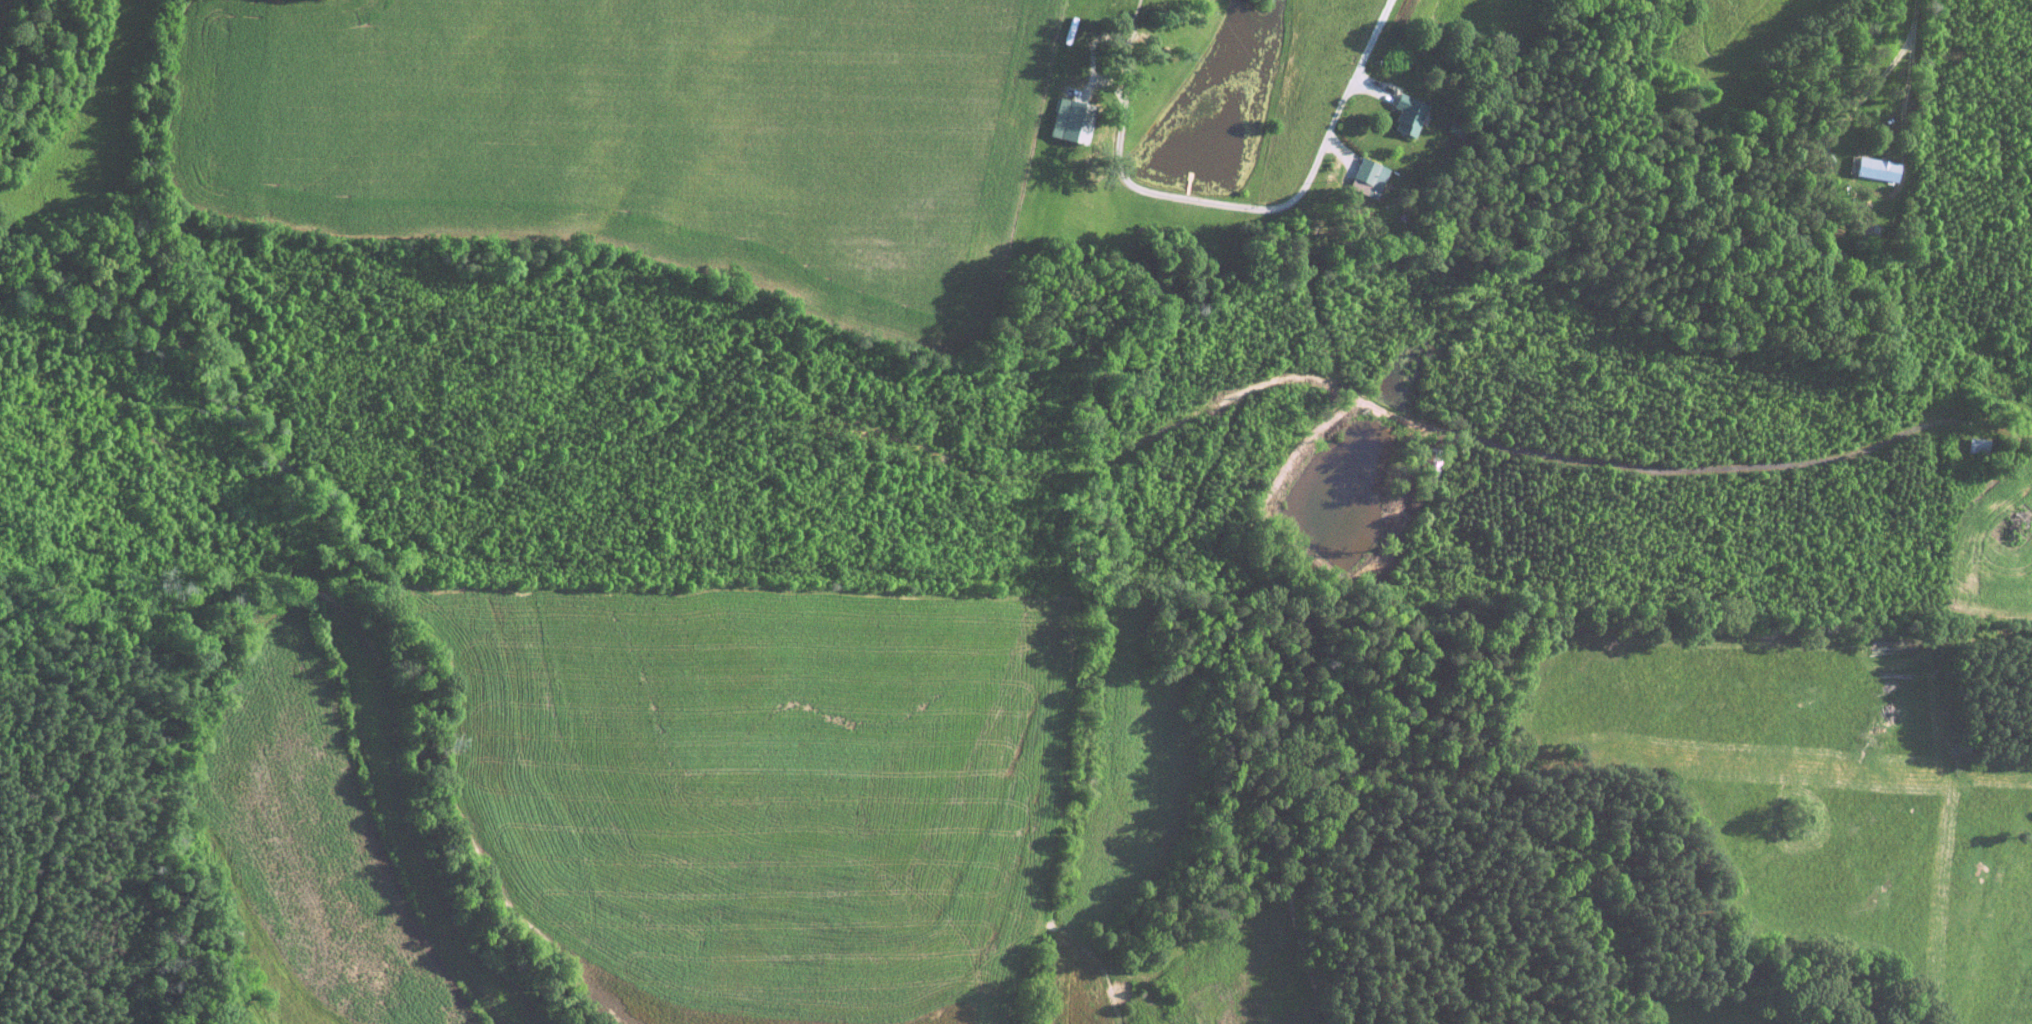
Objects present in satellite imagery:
road: (1911, 35)
building: (1406, 114)
building: (1069, 121)
building: (1875, 168)
building: (1366, 178)
road: (1245, 206)
building: (1977, 446)
road: (1738, 463)

